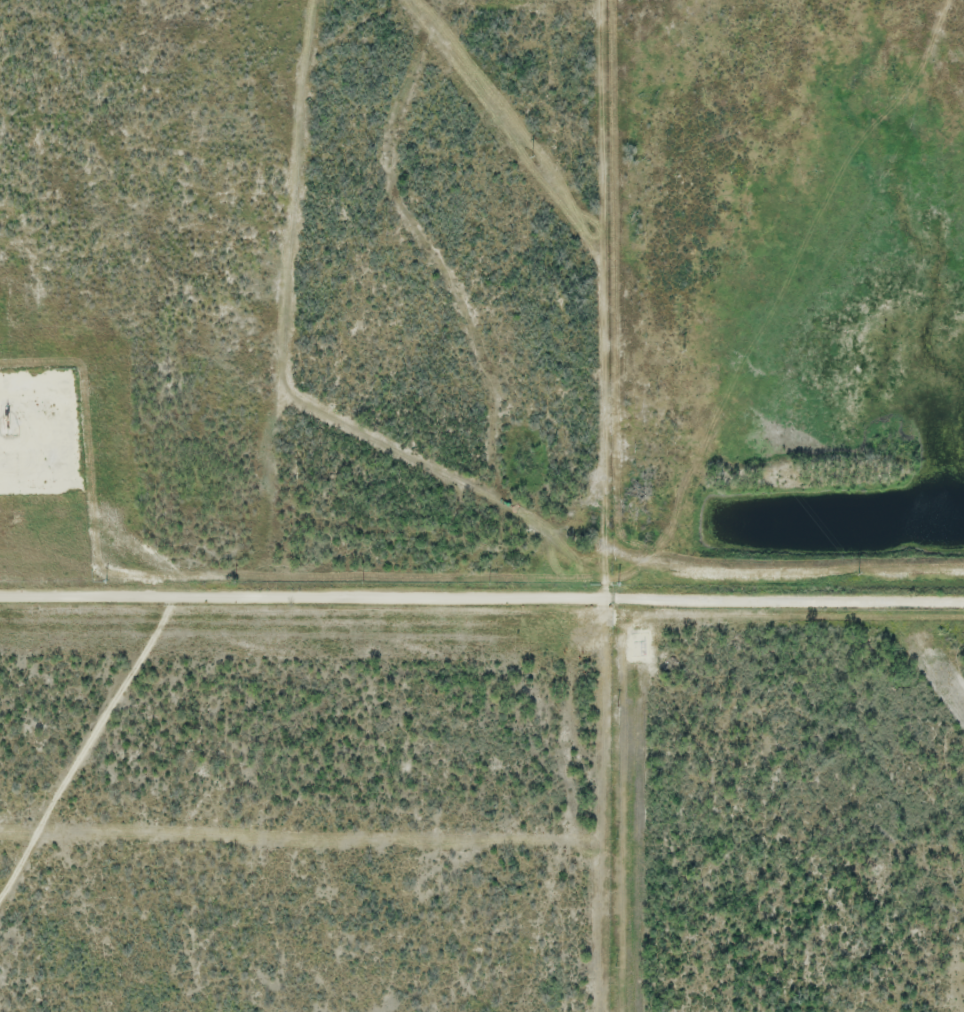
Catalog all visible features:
power tower: (531, 156)
power tower: (684, 349)
road: (48, 450)
power tower: (859, 574)
road: (301, 594)
road: (783, 600)

